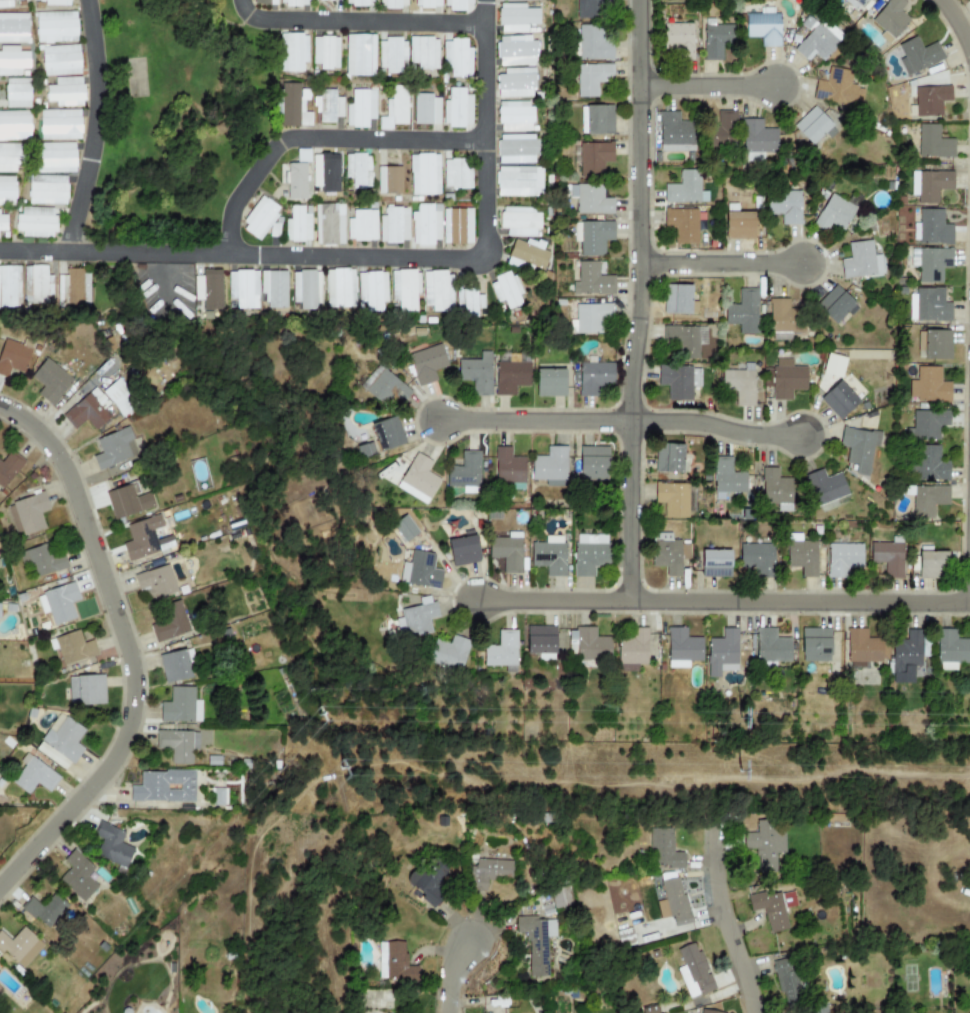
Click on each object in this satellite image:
building: (501, 0)
building: (673, 0)
building: (51, 1)
building: (264, 2)
building: (293, 2)
building: (359, 2)
building: (5, 3)
building: (428, 3)
building: (857, 3)
building: (392, 4)
building: (455, 4)
building: (588, 9)
building: (516, 17)
building: (891, 19)
road: (358, 21)
road: (957, 23)
building: (13, 27)
building: (56, 27)
building: (764, 27)
building: (678, 39)
building: (716, 39)
building: (817, 42)
building: (593, 43)
building: (324, 51)
building: (516, 51)
building: (292, 52)
building: (423, 52)
building: (390, 54)
building: (359, 55)
building: (917, 55)
building: (456, 57)
building: (60, 60)
building: (12, 61)
building: (592, 78)
building: (516, 83)
building: (837, 88)
building: (65, 91)
road: (715, 91)
building: (17, 93)
building: (930, 99)
building: (330, 106)
building: (360, 108)
building: (394, 108)
building: (457, 108)
building: (425, 109)
building: (515, 116)
building: (596, 119)
building: (287, 120)
building: (59, 124)
building: (14, 125)
building: (811, 125)
road: (95, 127)
building: (722, 130)
building: (674, 132)
road: (318, 139)
building: (757, 140)
building: (932, 142)
building: (515, 149)
building: (57, 156)
building: (594, 156)
building: (9, 158)
building: (357, 170)
building: (325, 171)
building: (456, 173)
building: (424, 174)
building: (388, 180)
building: (296, 181)
building: (518, 181)
building: (929, 185)
building: (684, 187)
building: (47, 189)
building: (6, 191)
building: (589, 198)
building: (784, 205)
building: (834, 213)
building: (259, 217)
building: (3, 220)
building: (36, 221)
building: (519, 221)
building: (298, 224)
building: (328, 224)
building: (425, 224)
building: (681, 224)
building: (361, 225)
building: (394, 225)
building: (739, 225)
building: (457, 226)
building: (931, 227)
building: (592, 236)
building: (527, 254)
road: (372, 257)
building: (860, 261)
building: (930, 263)
road: (730, 267)
building: (592, 280)
building: (36, 284)
building: (9, 286)
building: (208, 288)
building: (243, 288)
building: (273, 288)
building: (339, 288)
building: (72, 289)
building: (306, 289)
building: (505, 289)
building: (371, 290)
building: (404, 290)
building: (437, 290)
building: (677, 299)
road: (651, 302)
building: (467, 303)
building: (835, 305)
building: (928, 305)
building: (743, 312)
building: (785, 317)
building: (589, 318)
building: (685, 339)
building: (936, 344)
building: (12, 357)
building: (426, 363)
building: (833, 365)
building: (477, 373)
building: (511, 377)
building: (594, 377)
building: (786, 379)
building: (677, 381)
building: (50, 382)
building: (549, 382)
building: (739, 385)
building: (928, 385)
building: (383, 386)
building: (119, 397)
building: (838, 400)
building: (85, 413)
road: (549, 415)
road: (721, 415)
building: (926, 424)
building: (387, 433)
building: (114, 448)
building: (859, 448)
building: (365, 450)
building: (668, 458)
building: (593, 463)
building: (927, 464)
building: (508, 466)
building: (550, 466)
building: (9, 467)
building: (727, 477)
building: (418, 479)
building: (775, 486)
building: (825, 487)
building: (672, 499)
building: (928, 499)
building: (127, 502)
building: (27, 513)
building: (404, 528)
building: (141, 538)
building: (463, 550)
building: (507, 551)
building: (588, 553)
building: (666, 553)
building: (549, 555)
building: (887, 557)
building: (757, 558)
building: (843, 559)
building: (42, 560)
building: (715, 563)
building: (931, 564)
building: (420, 571)
building: (156, 582)
building: (60, 602)
road: (553, 605)
road: (801, 605)
building: (416, 619)
building: (2, 620)
building: (168, 622)
building: (540, 641)
building: (589, 643)
building: (815, 644)
building: (771, 646)
building: (862, 646)
building: (73, 648)
building: (682, 648)
road: (127, 649)
building: (501, 650)
building: (632, 650)
building: (951, 650)
building: (449, 653)
building: (722, 653)
building: (905, 657)
building: (175, 665)
building: (86, 690)
building: (181, 707)
building: (61, 741)
building: (178, 744)
building: (34, 775)
building: (164, 787)
building: (172, 787)
building: (765, 844)
building: (112, 845)
building: (664, 849)
building: (487, 872)
building: (77, 876)
building: (427, 881)
building: (560, 897)
building: (673, 902)
building: (44, 909)
building: (769, 910)
road: (731, 911)
building: (536, 942)
building: (20, 946)
building: (394, 963)
building: (693, 971)
road: (454, 973)
building: (784, 978)
building: (0, 991)
building: (708, 1011)

